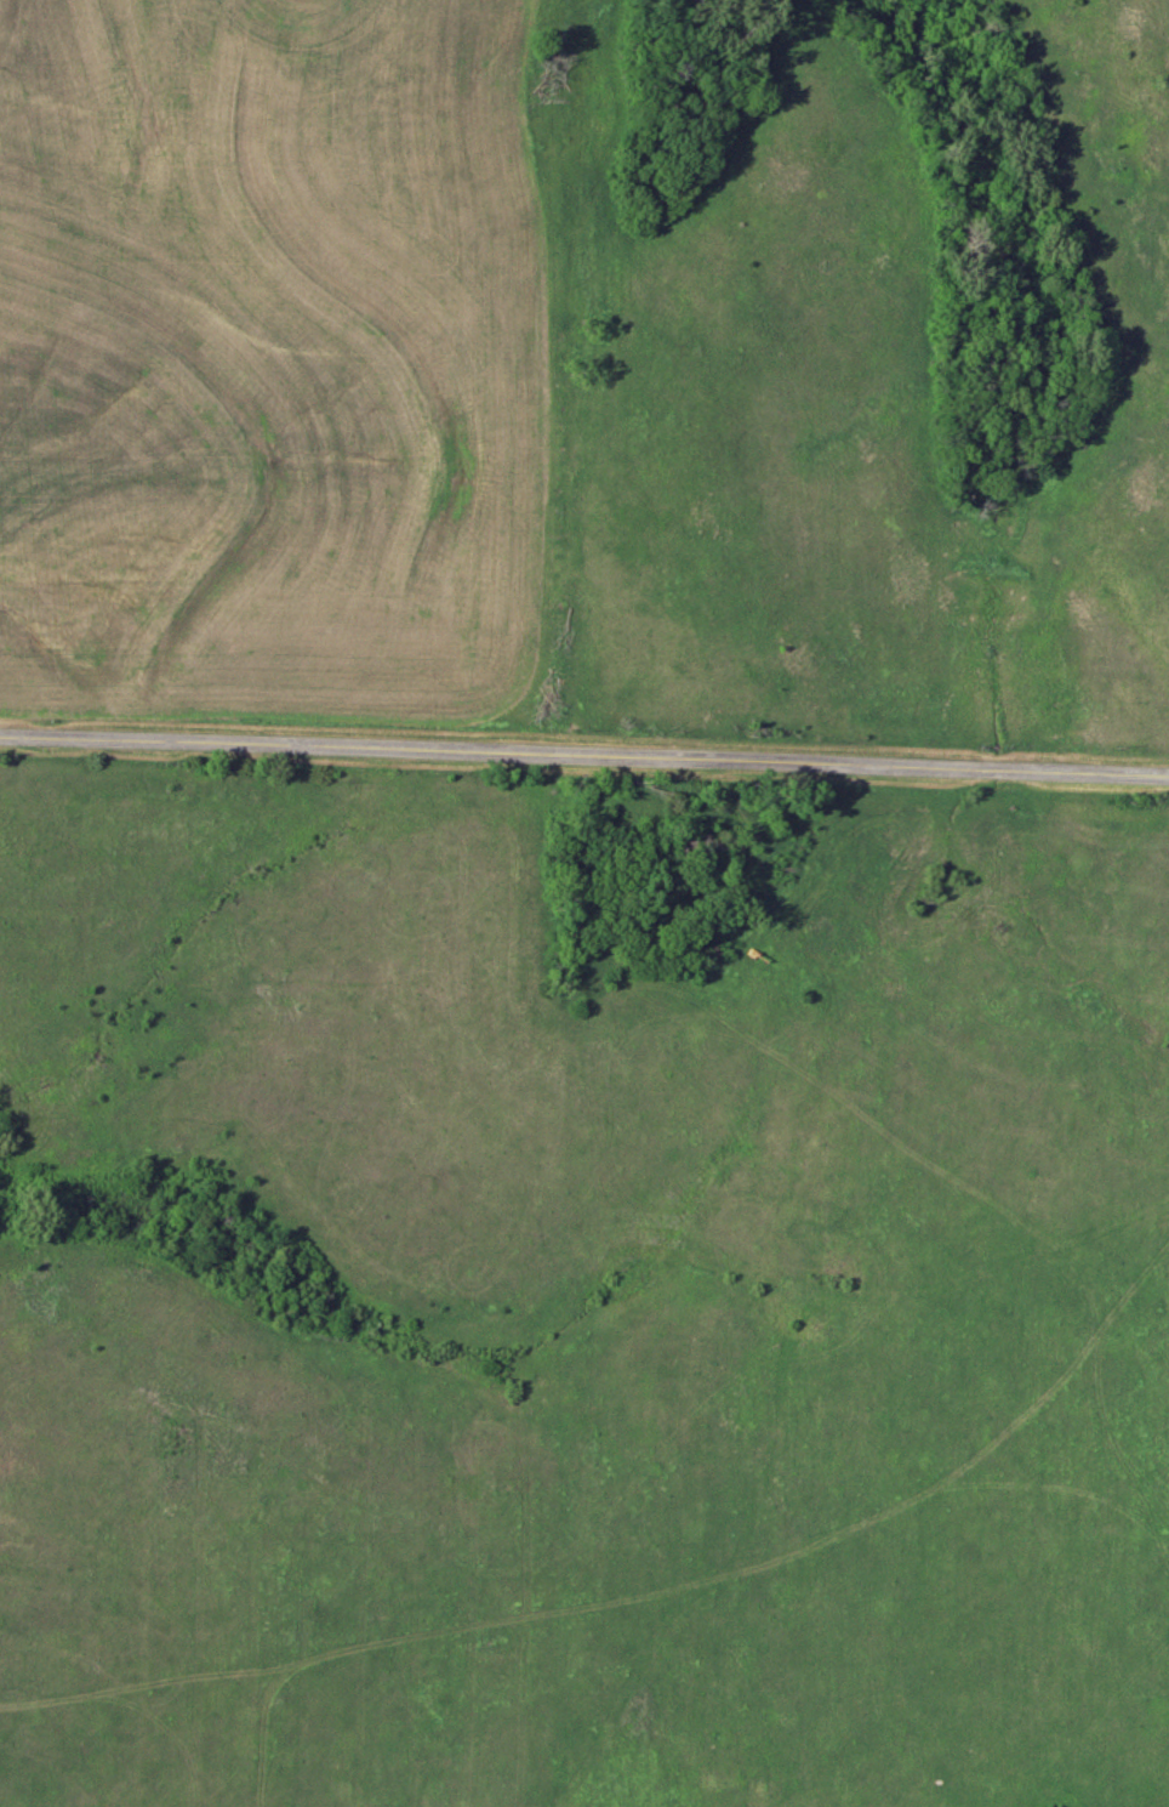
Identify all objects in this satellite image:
road: (584, 755)

